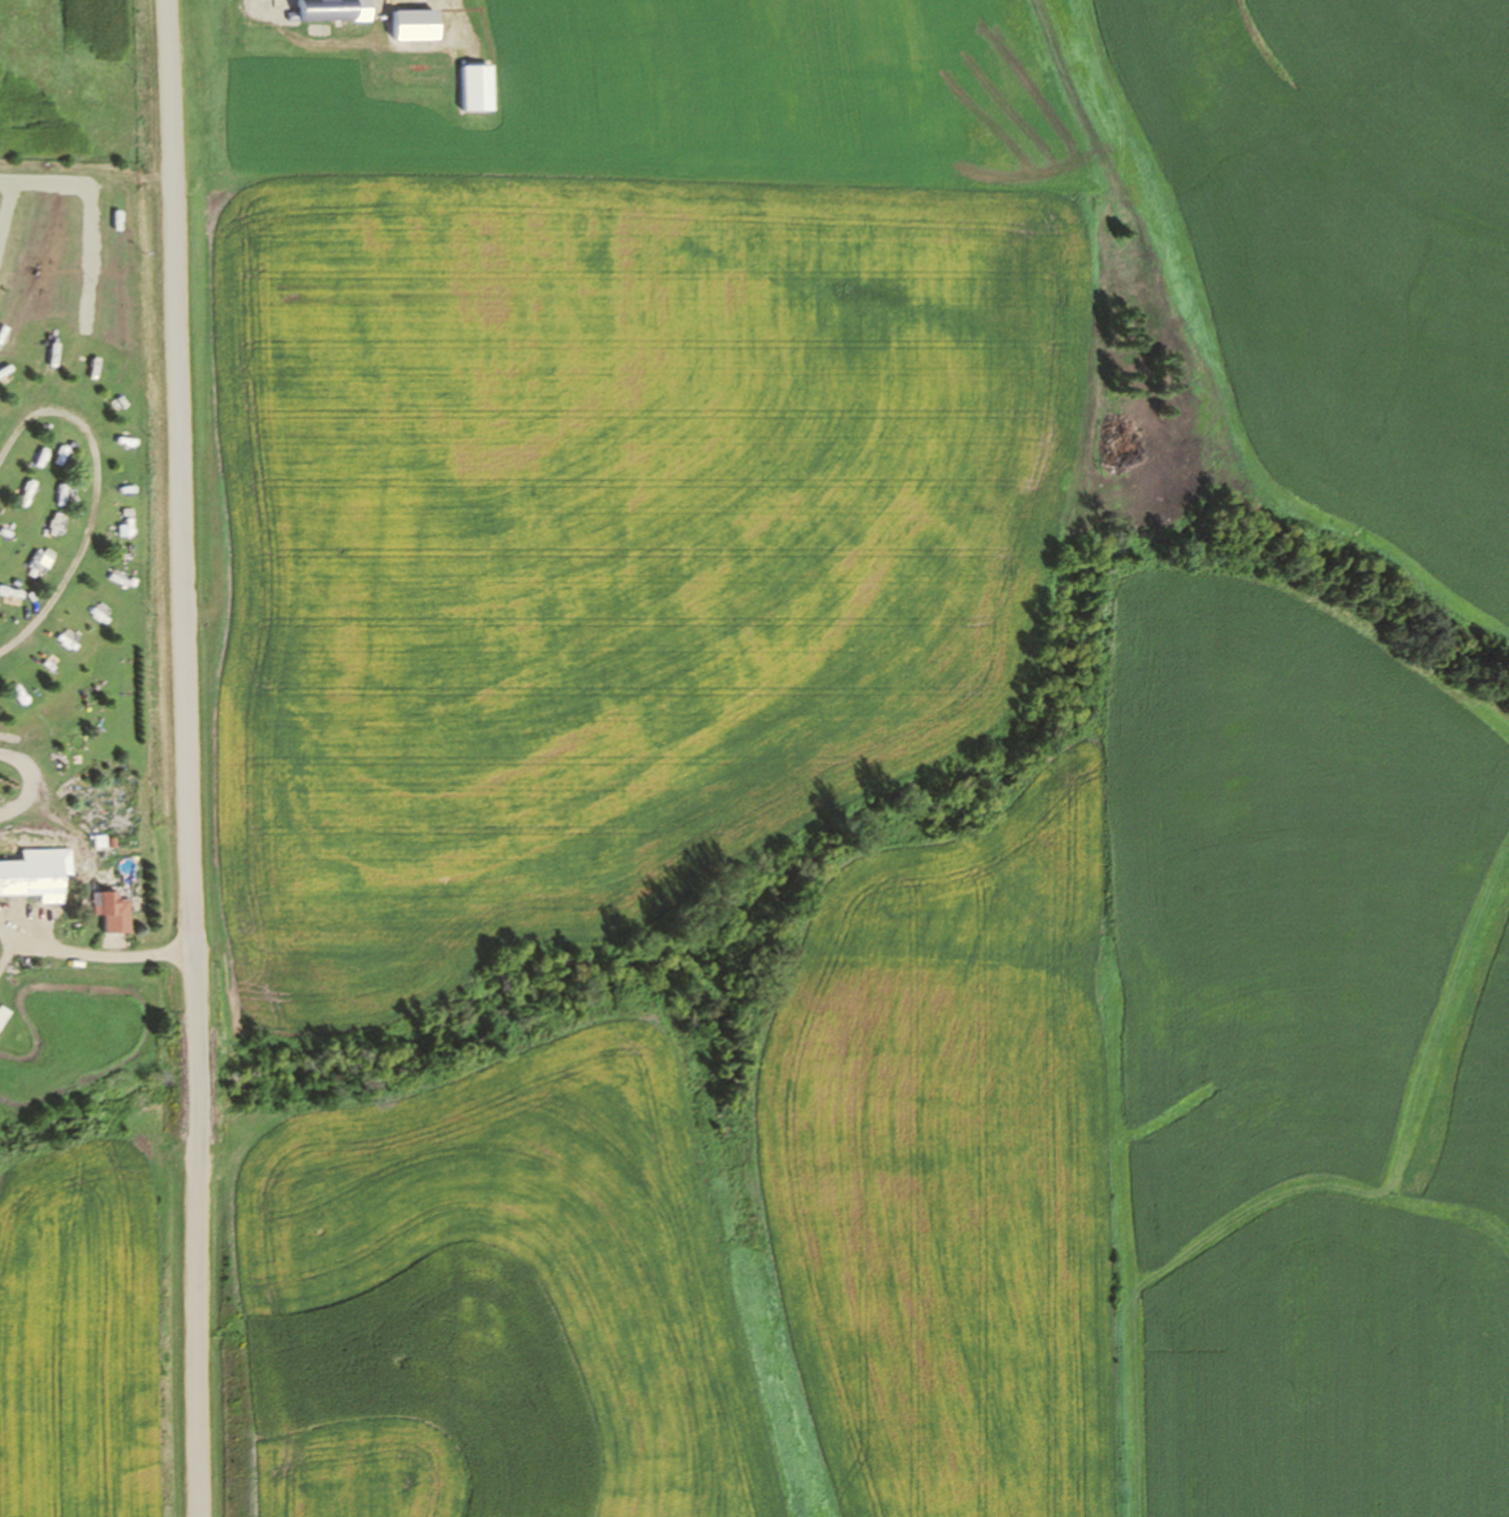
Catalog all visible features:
road: (98, 496)
road: (189, 758)
road: (39, 779)
building: (31, 878)
building: (112, 911)
road: (94, 955)
building: (3, 1015)

